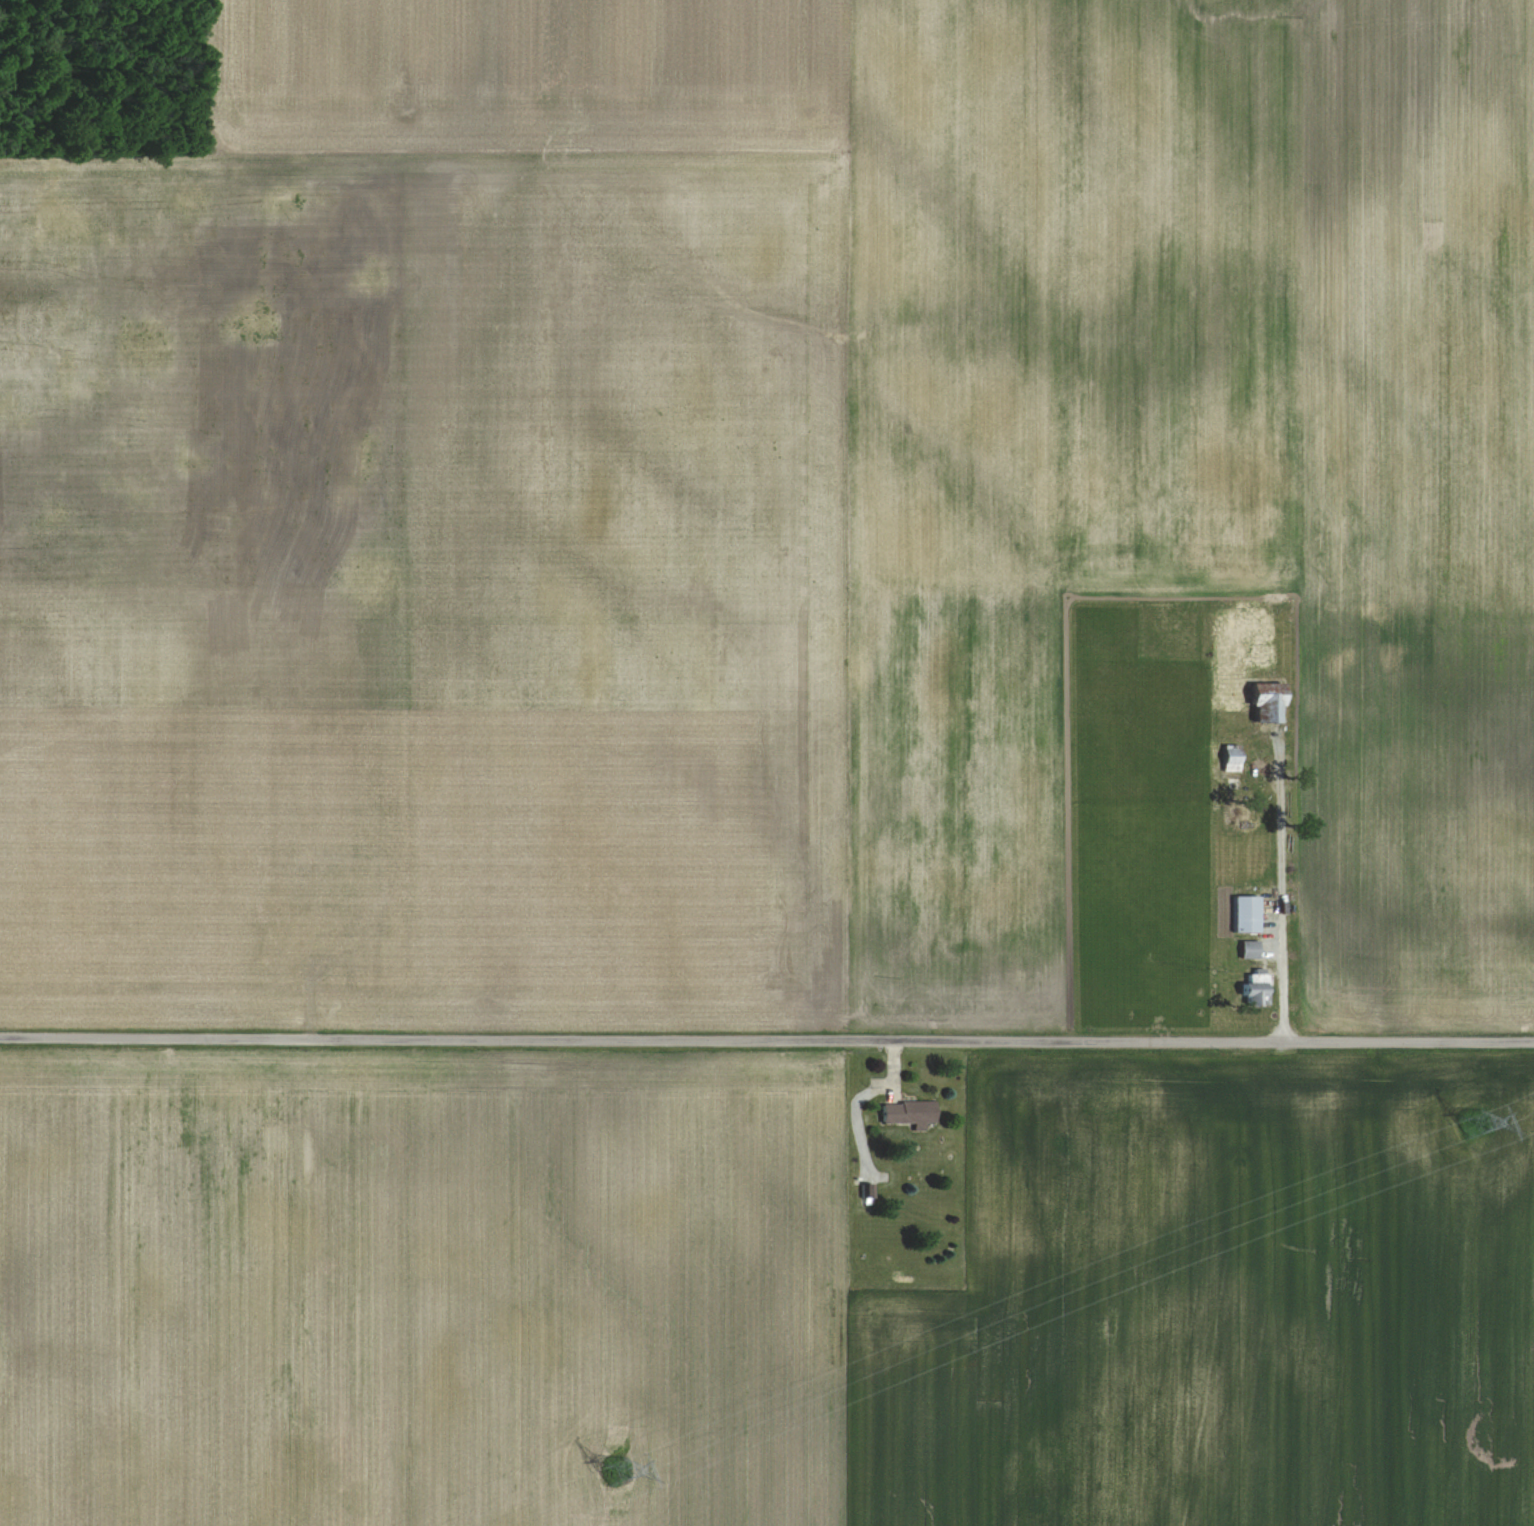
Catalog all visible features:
building: (1258, 704)
building: (1226, 758)
road: (1314, 880)
building: (1242, 914)
building: (1245, 950)
building: (1251, 988)
road: (766, 1040)
building: (909, 1113)
power tower: (1471, 1124)
building: (866, 1193)
power tower: (618, 1471)

